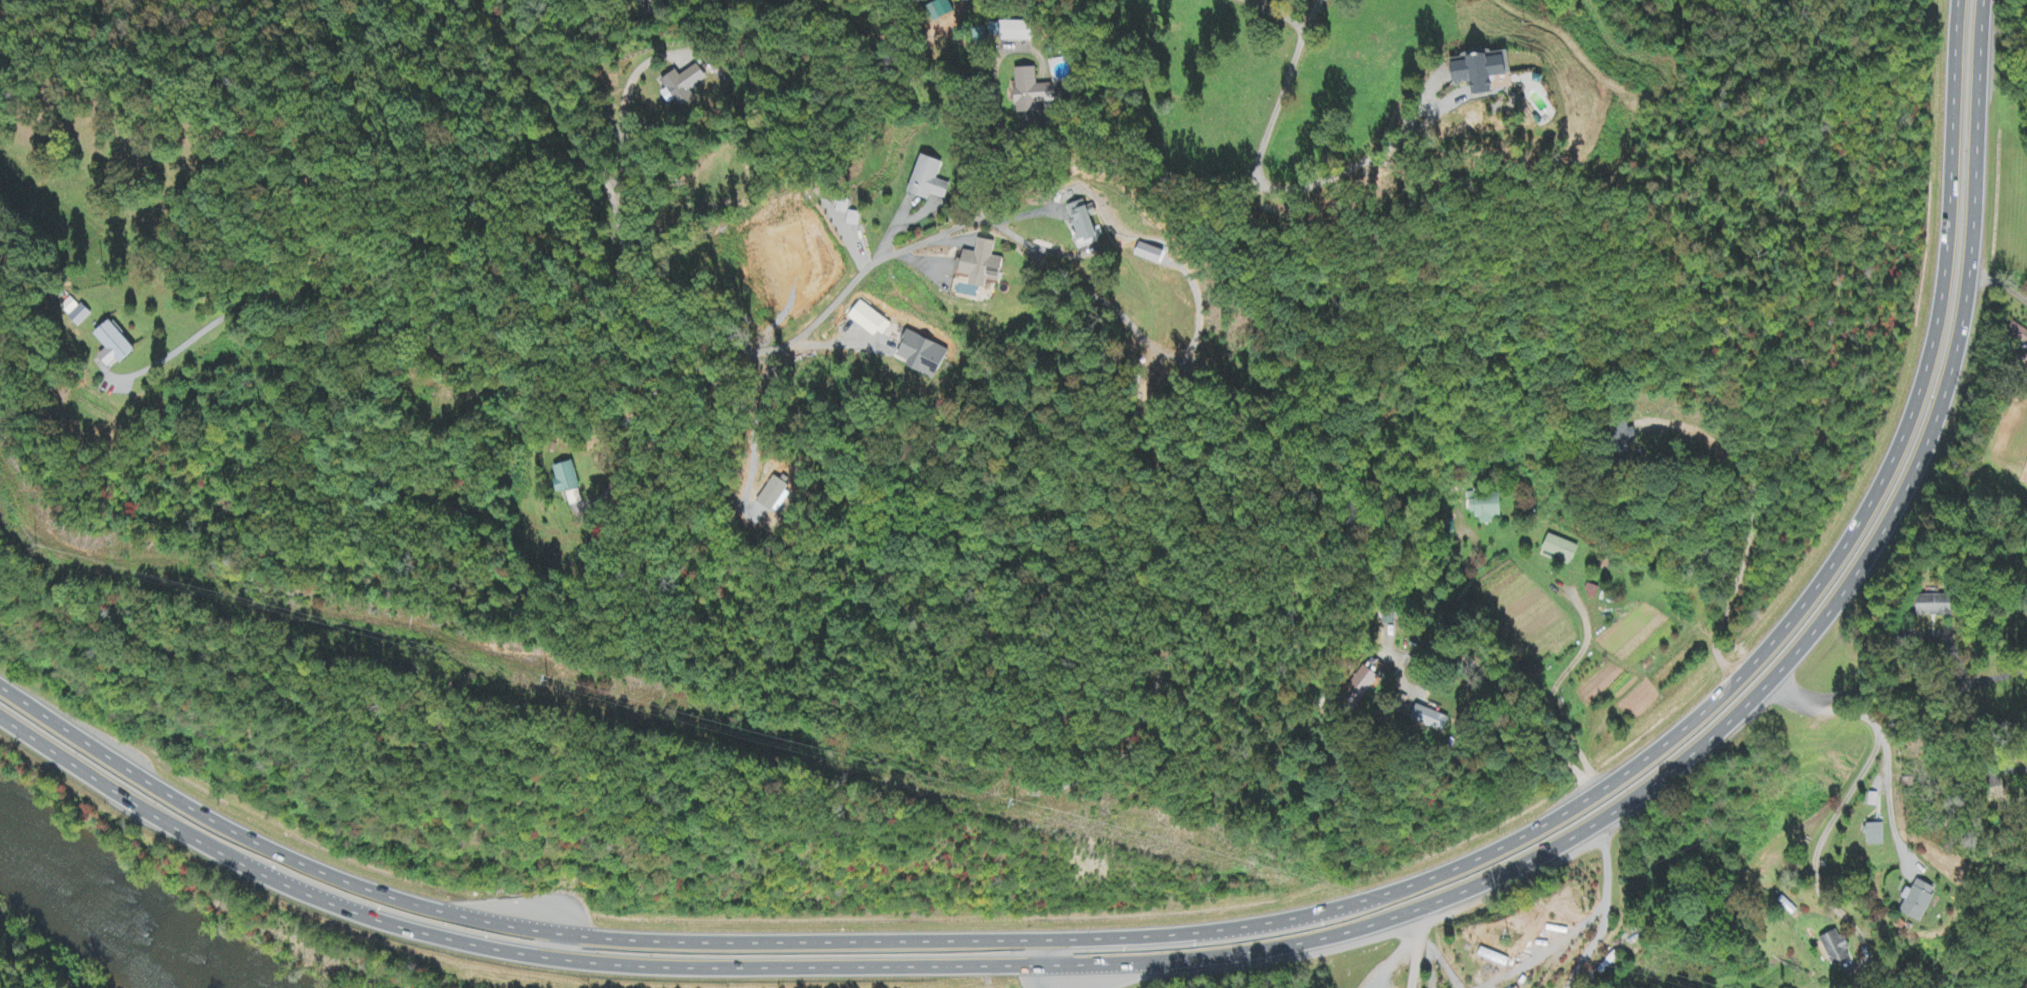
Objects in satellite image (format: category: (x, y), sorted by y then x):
building: (636, 0)
building: (652, 5)
building: (1021, 32)
building: (1498, 73)
building: (686, 86)
building: (1034, 92)
road: (1007, 156)
road: (1259, 161)
building: (931, 181)
building: (1085, 224)
building: (983, 265)
road: (395, 309)
building: (77, 312)
road: (665, 315)
building: (2014, 334)
building: (117, 346)
building: (926, 357)
road: (712, 380)
building: (1627, 443)
building: (569, 485)
building: (1485, 508)
building: (1557, 549)
building: (1919, 604)
road: (1927, 687)
building: (1359, 688)
building: (1399, 705)
building: (1427, 719)
road: (1853, 779)
building: (1871, 835)
building: (1913, 902)
river: (151, 914)
road: (405, 914)
road: (1240, 924)
road: (1260, 945)
road: (1136, 946)
road: (1417, 948)
building: (1832, 948)
road: (1105, 974)
railway: (3, 985)

